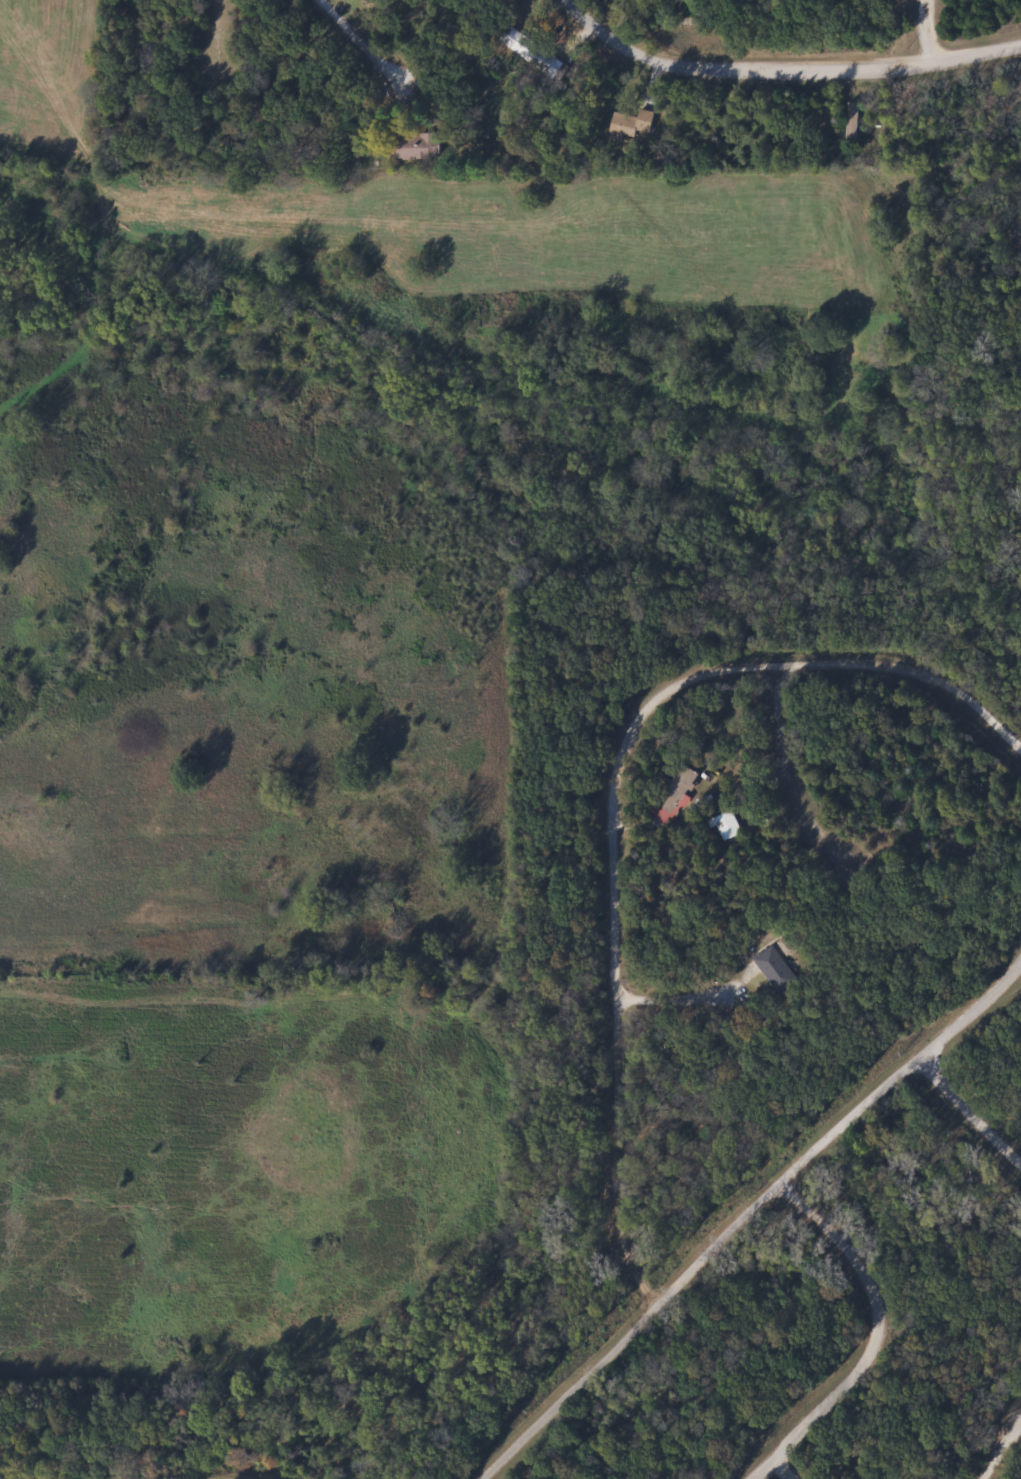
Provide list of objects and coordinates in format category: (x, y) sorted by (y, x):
road: (930, 29)
road: (361, 44)
road: (261, 52)
road: (784, 67)
building: (623, 126)
building: (414, 146)
road: (795, 765)
building: (677, 792)
road: (619, 802)
building: (730, 826)
building: (774, 970)
road: (987, 993)
road: (683, 995)
road: (968, 1106)
road: (715, 1250)
road: (880, 1338)
road: (1002, 1451)
road: (790, 1466)

